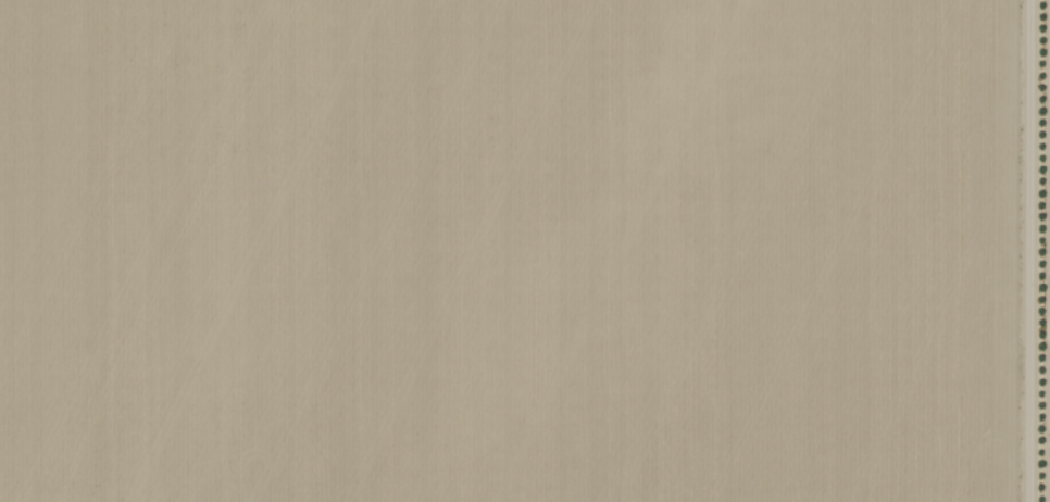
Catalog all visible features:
crop: (509, 250)

